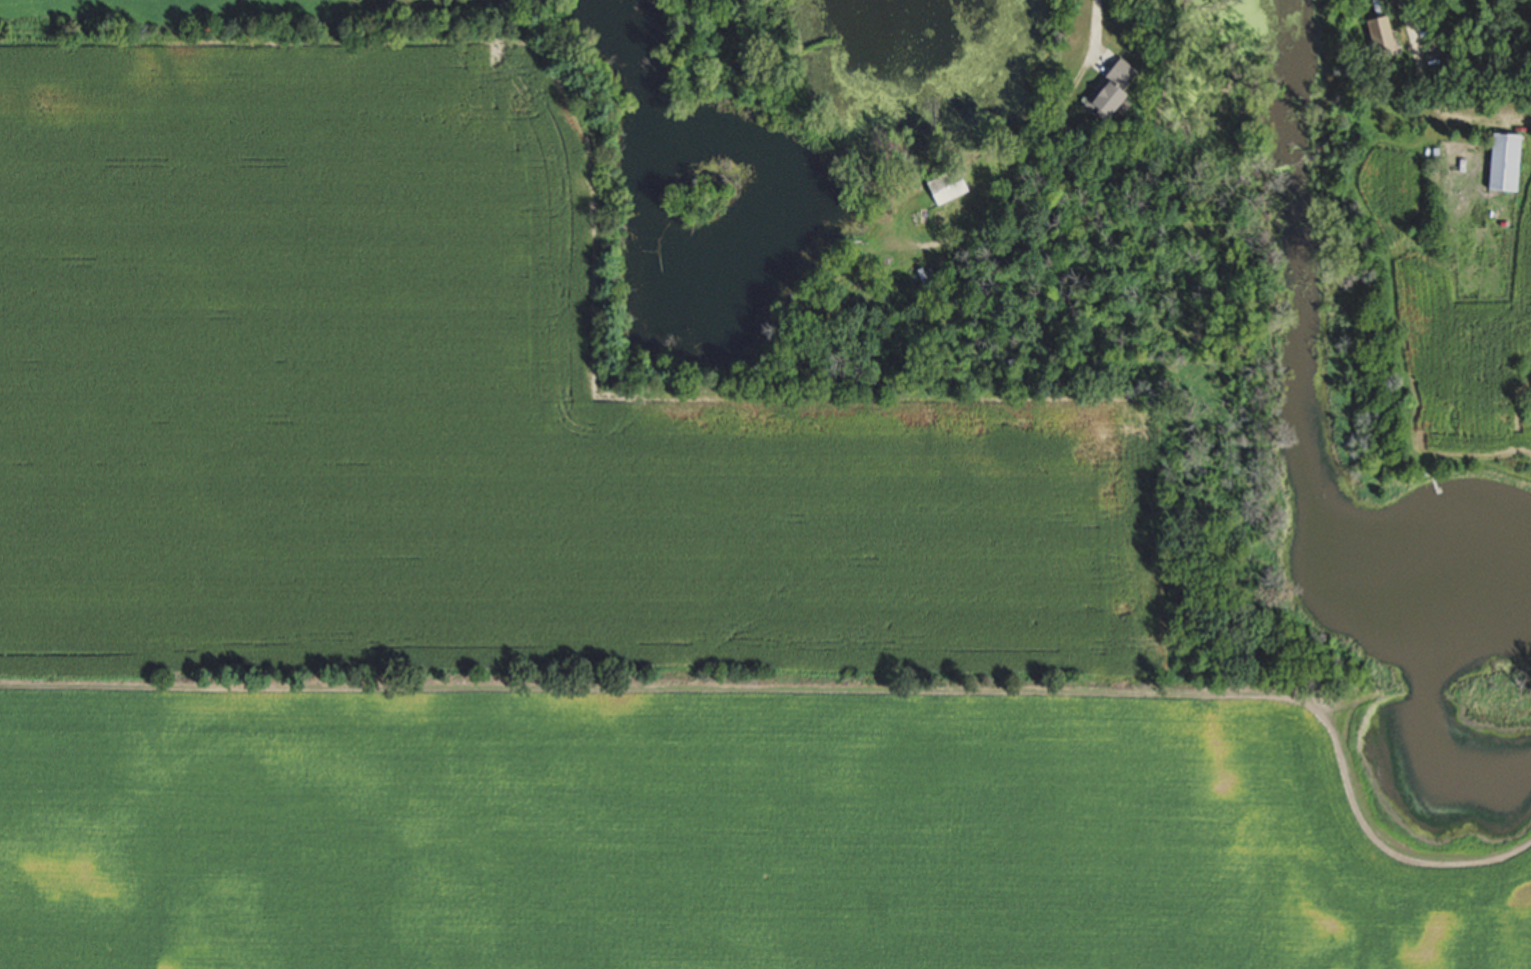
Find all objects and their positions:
road: (1404, 24)
building: (1375, 35)
building: (1119, 90)
road: (1037, 144)
building: (1501, 163)
building: (953, 186)

